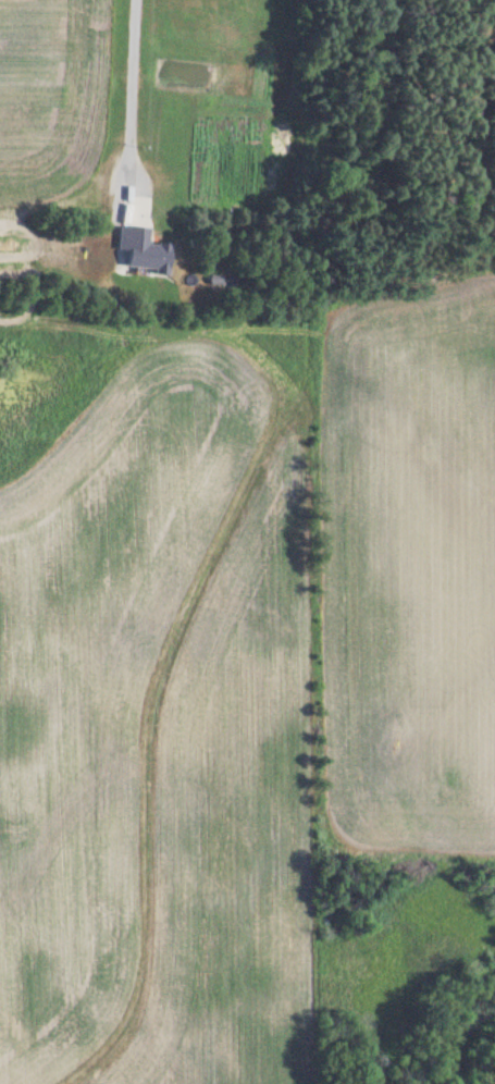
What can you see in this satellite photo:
road: (131, 102)

